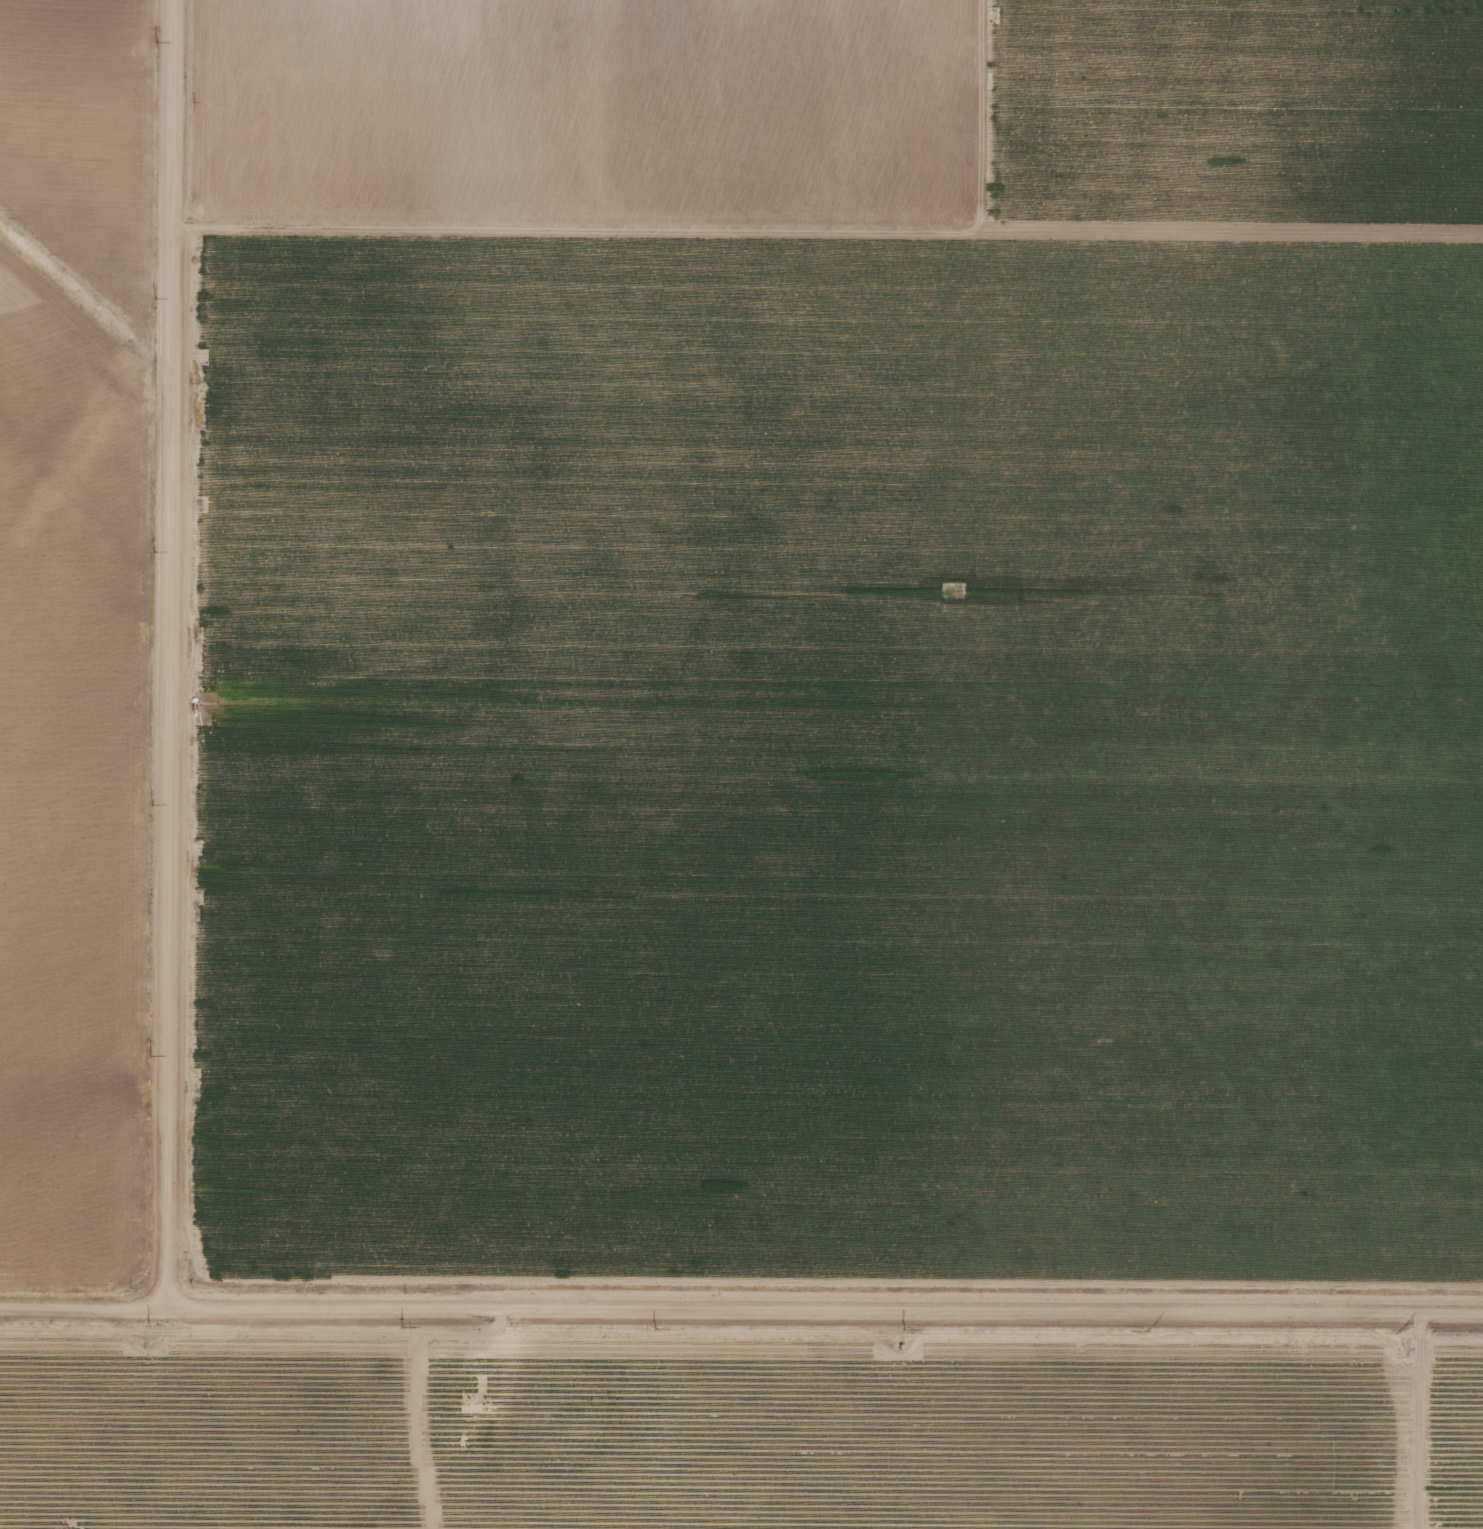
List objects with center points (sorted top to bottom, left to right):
road: (153, 656)
road: (51, 1312)
road: (123, 1312)
road: (813, 1316)

